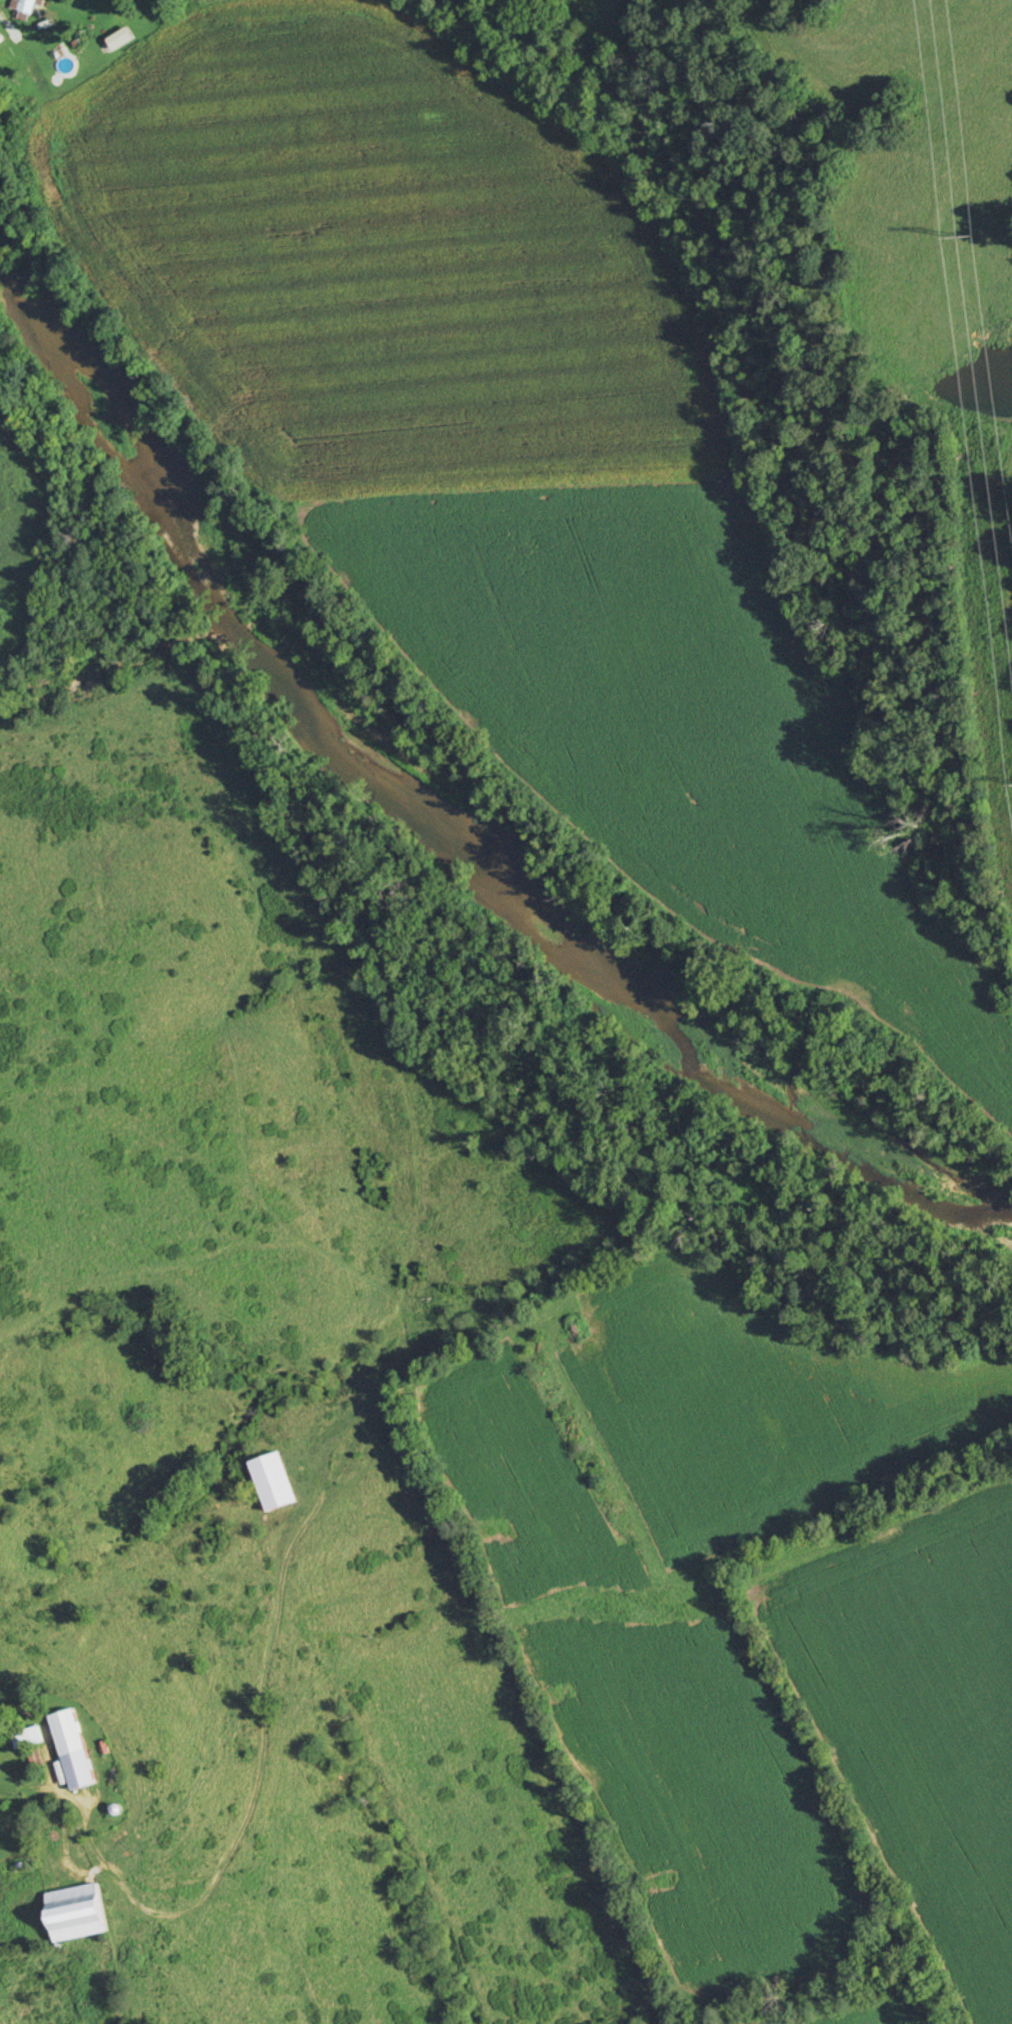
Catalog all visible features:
building: (27, 6)
power tower: (963, 233)
river: (439, 803)
building: (274, 1481)
building: (27, 1737)
building: (71, 1751)
building: (74, 1912)

